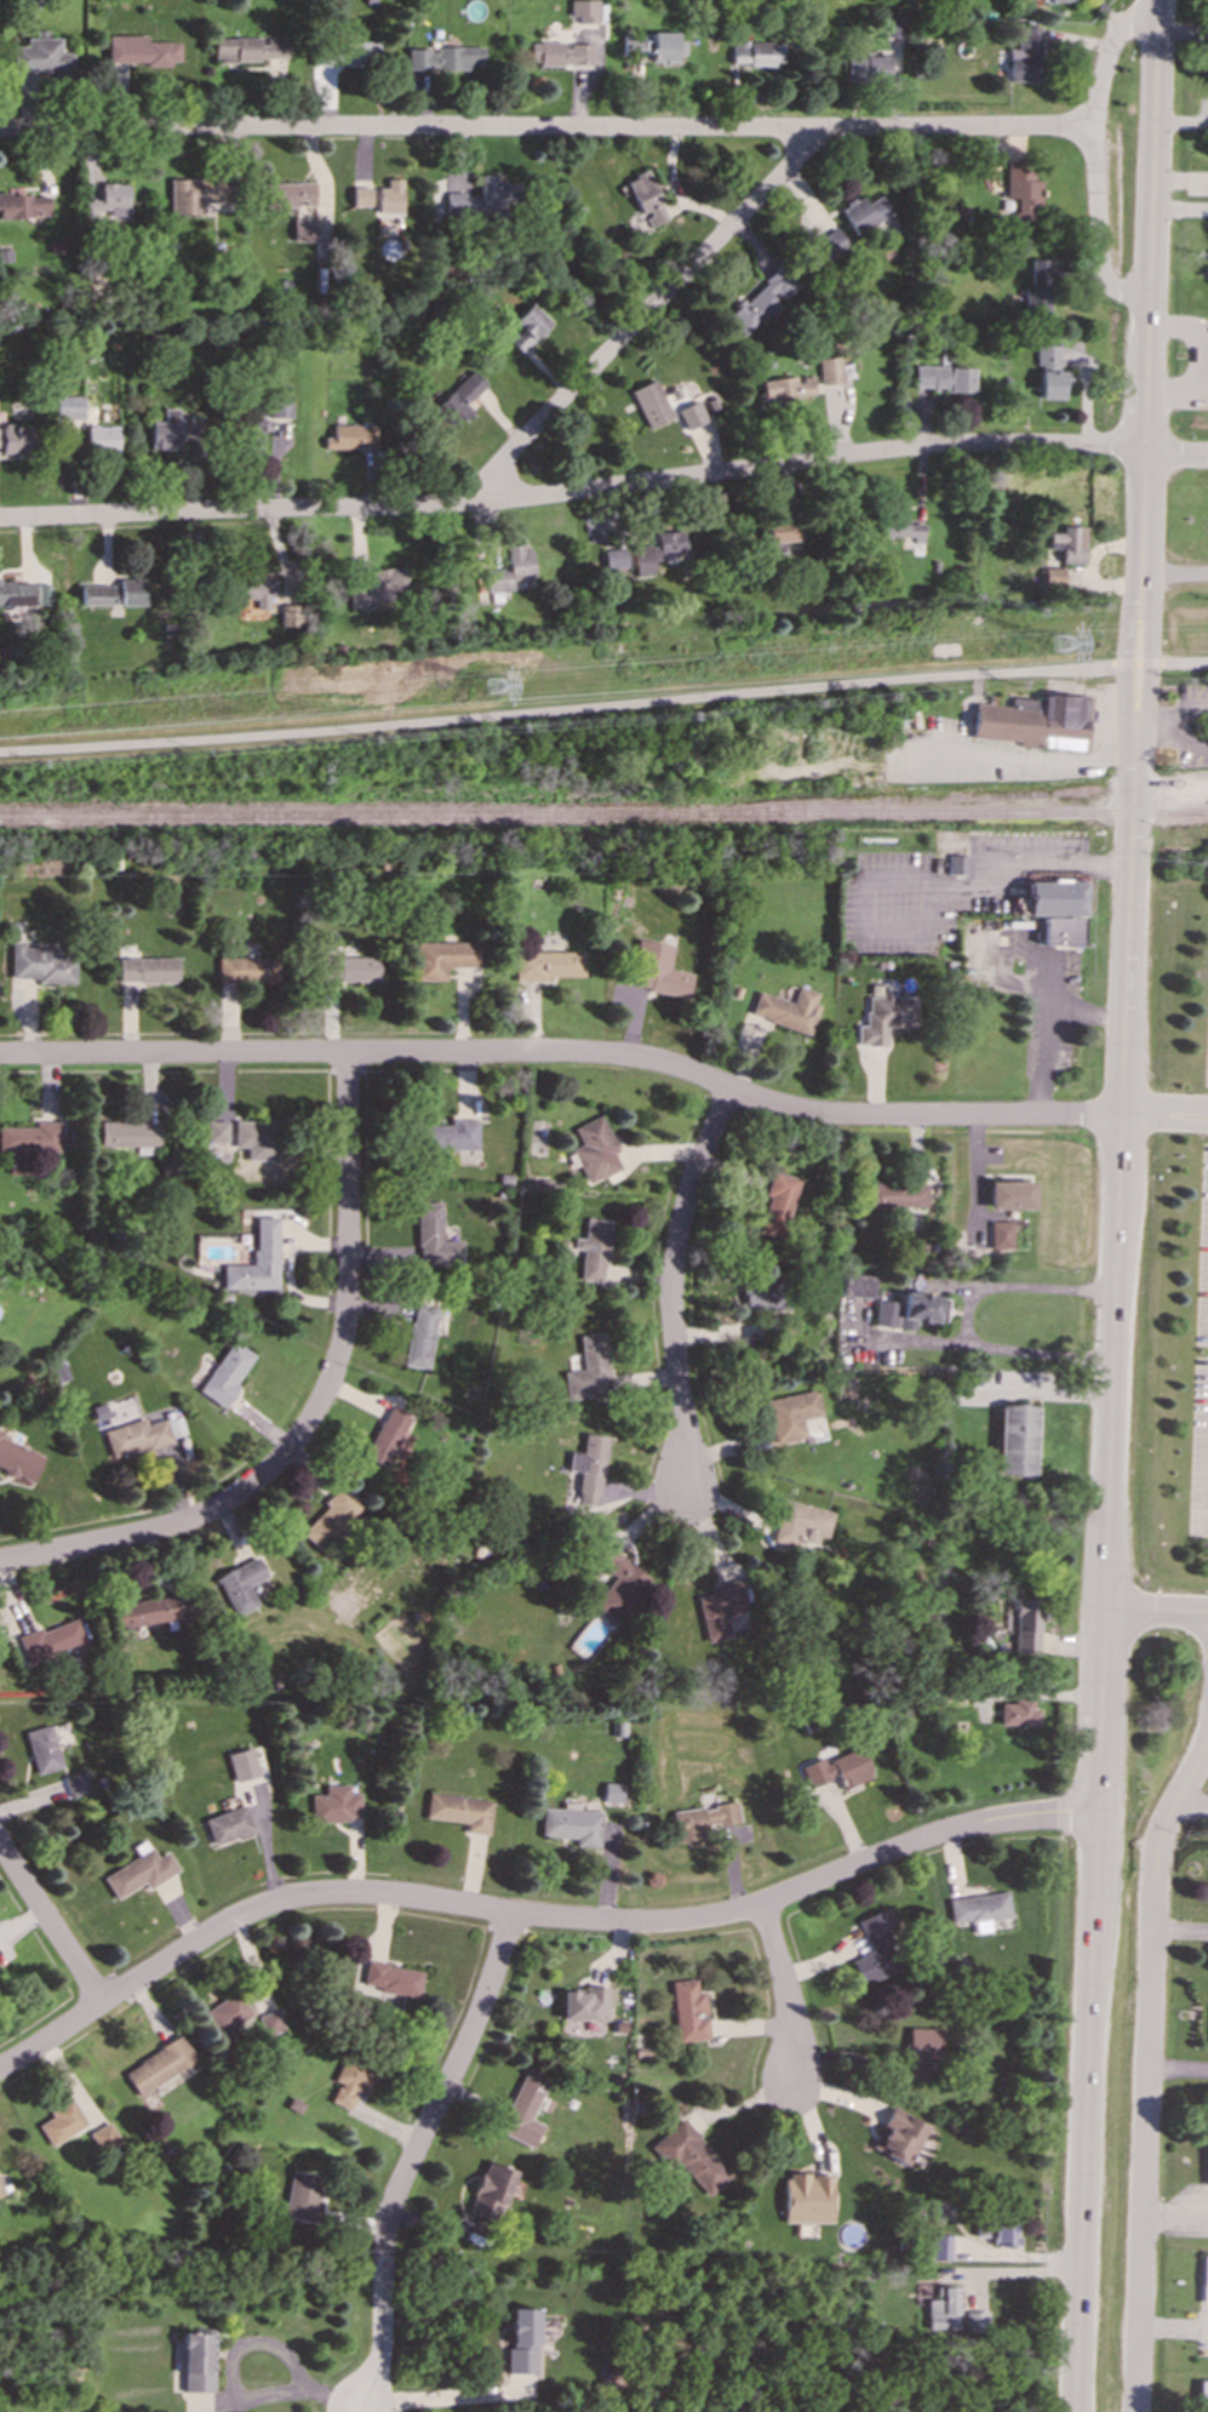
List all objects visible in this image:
building: (1063, 0)
building: (30, 2)
building: (584, 10)
building: (893, 25)
building: (655, 46)
building: (141, 50)
building: (253, 52)
building: (344, 53)
building: (561, 53)
building: (757, 53)
building: (1025, 55)
building: (40, 56)
building: (868, 68)
road: (546, 128)
road: (1155, 147)
road: (1094, 158)
building: (1021, 192)
building: (290, 193)
building: (196, 194)
building: (360, 196)
building: (390, 196)
building: (645, 198)
building: (481, 199)
building: (108, 202)
building: (22, 204)
building: (865, 212)
building: (304, 229)
building: (830, 244)
building: (1037, 287)
building: (762, 301)
road: (647, 314)
building: (527, 327)
building: (830, 370)
building: (1049, 371)
building: (941, 378)
building: (788, 387)
building: (459, 398)
building: (651, 404)
building: (69, 407)
building: (280, 407)
building: (691, 416)
building: (174, 429)
building: (254, 433)
building: (351, 436)
building: (102, 438)
building: (17, 439)
road: (1143, 445)
road: (1174, 456)
road: (573, 493)
building: (899, 527)
building: (780, 533)
building: (1067, 544)
building: (658, 550)
building: (614, 558)
building: (511, 571)
building: (378, 588)
building: (257, 589)
building: (16, 593)
building: (114, 593)
building: (42, 594)
building: (294, 615)
power tower: (1063, 645)
road: (1123, 663)
road: (1147, 663)
road: (1149, 663)
road: (1183, 663)
road: (1123, 664)
road: (1137, 664)
power tower: (497, 686)
road: (557, 709)
building: (1037, 720)
road: (1172, 720)
road: (1026, 758)
railway: (603, 817)
road: (994, 868)
building: (1000, 954)
building: (446, 958)
building: (40, 964)
building: (548, 965)
building: (351, 968)
building: (148, 970)
building: (248, 970)
building: (657, 970)
building: (788, 1008)
building: (883, 1016)
road: (563, 1052)
road: (1163, 1116)
building: (217, 1131)
building: (127, 1133)
building: (451, 1134)
building: (256, 1137)
building: (29, 1144)
building: (594, 1150)
building: (895, 1194)
building: (1012, 1194)
building: (778, 1204)
building: (1001, 1233)
building: (434, 1238)
building: (592, 1250)
building: (256, 1261)
road: (672, 1282)
building: (858, 1285)
building: (762, 1296)
building: (910, 1310)
road: (967, 1319)
building: (419, 1336)
building: (588, 1370)
building: (225, 1373)
road: (315, 1411)
building: (790, 1414)
building: (141, 1435)
building: (387, 1435)
building: (1015, 1439)
building: (18, 1459)
building: (589, 1469)
building: (332, 1517)
building: (801, 1525)
road: (1104, 1570)
building: (240, 1584)
building: (618, 1584)
building: (720, 1608)
building: (160, 1610)
road: (1155, 1611)
building: (1024, 1625)
building: (51, 1640)
building: (1017, 1713)
building: (44, 1749)
building: (242, 1765)
building: (838, 1768)
building: (76, 1784)
building: (612, 1793)
road: (1192, 1802)
building: (336, 1804)
building: (459, 1811)
building: (702, 1819)
building: (229, 1824)
building: (572, 1824)
building: (141, 1870)
building: (979, 1909)
road: (531, 1915)
road: (51, 1922)
road: (1180, 1932)
building: (876, 1949)
building: (393, 1978)
road: (788, 1993)
building: (585, 2004)
building: (688, 2011)
building: (228, 2012)
building: (270, 2023)
building: (920, 2050)
building: (159, 2064)
road: (1178, 2068)
road: (1147, 2071)
building: (351, 2081)
building: (525, 2108)
building: (62, 2122)
building: (898, 2136)
building: (105, 2137)
road: (414, 2155)
building: (691, 2156)
building: (1, 2190)
building: (491, 2191)
building: (303, 2196)
building: (807, 2197)
road: (1175, 2213)
building: (997, 2231)
building: (940, 2247)
building: (1204, 2280)
building: (943, 2309)
road: (1174, 2328)
building: (523, 2340)
building: (200, 2362)
road: (233, 2384)
building: (1202, 2396)
road: (440, 2399)

